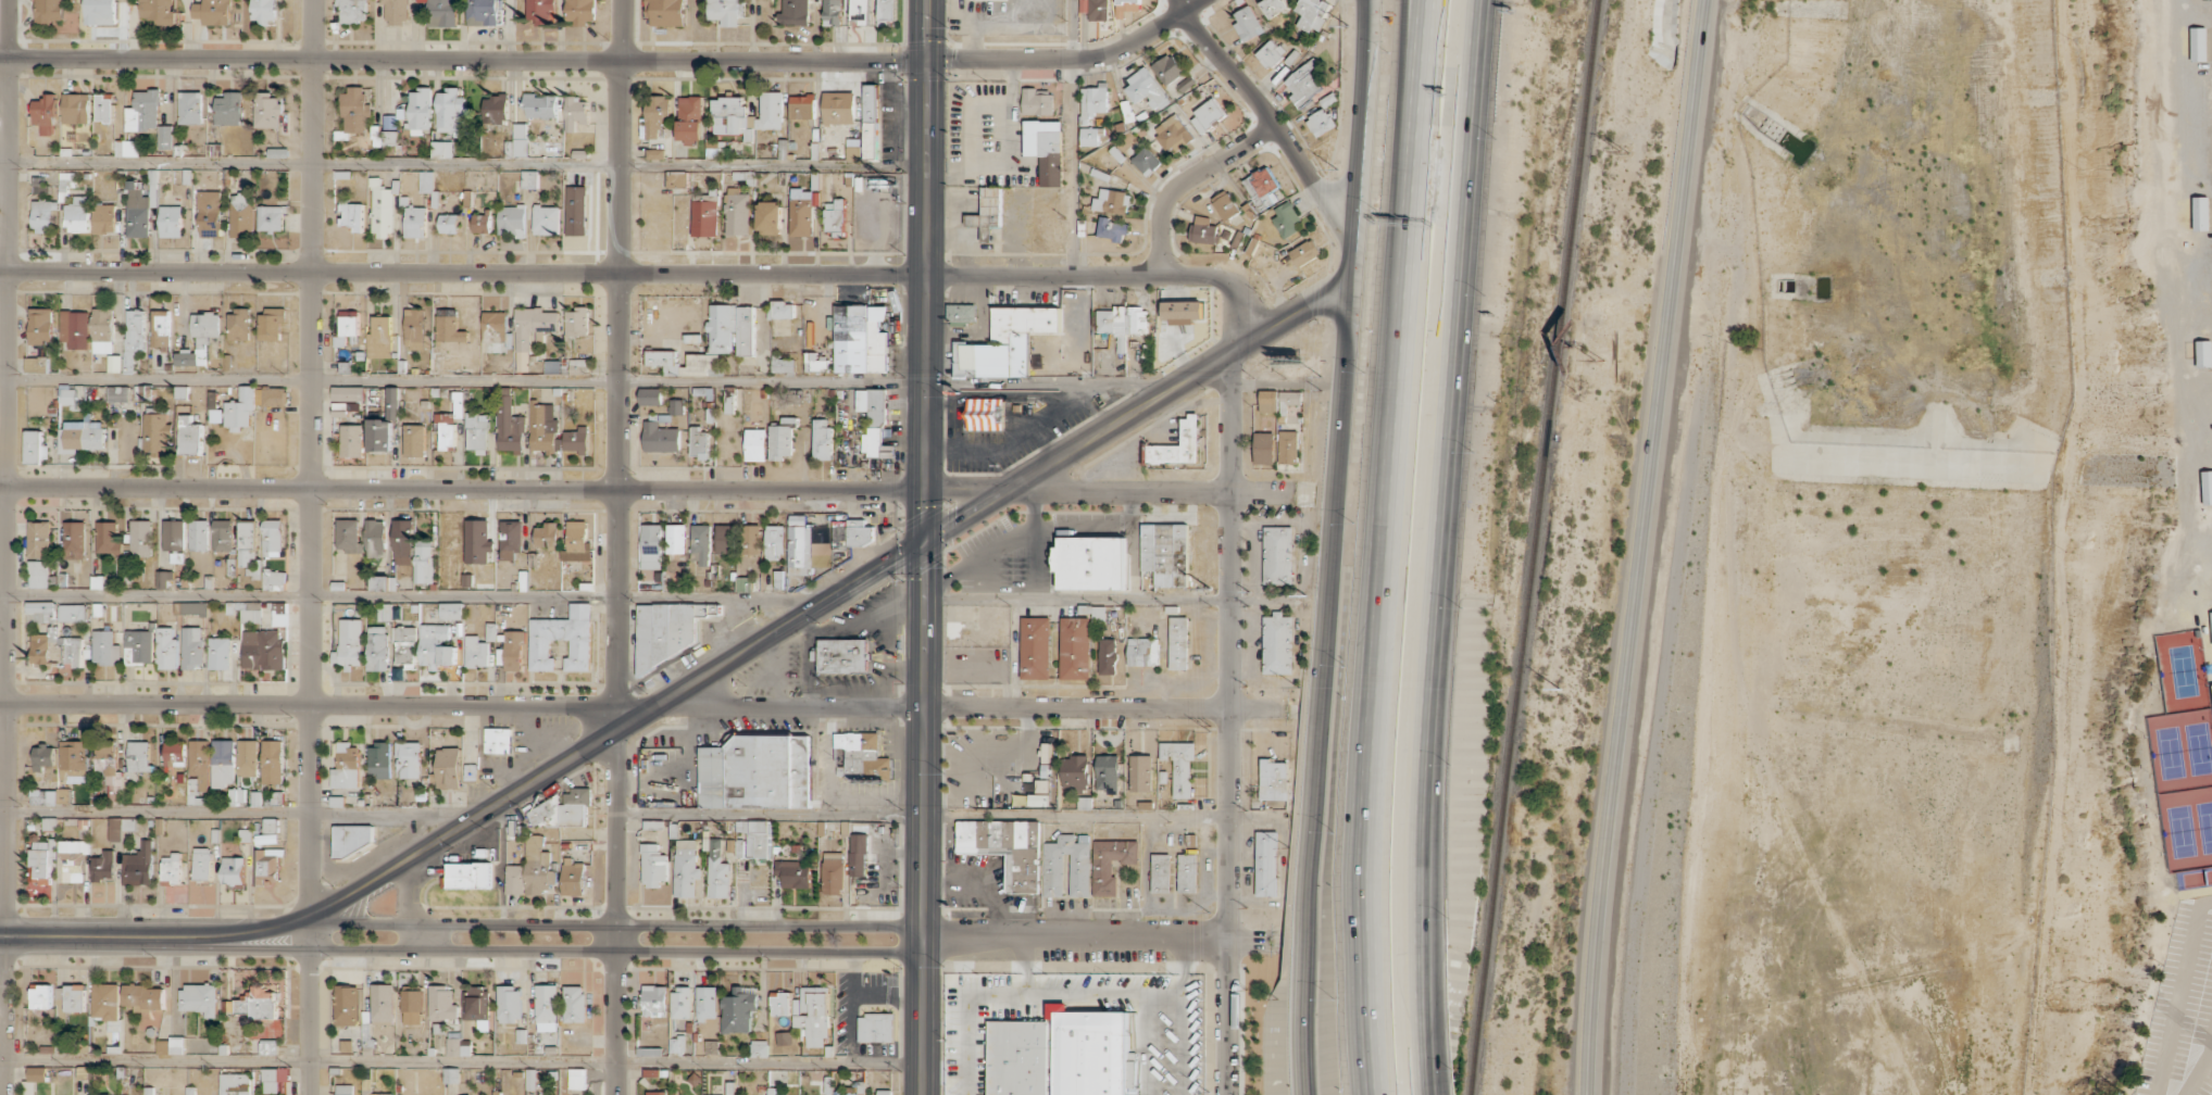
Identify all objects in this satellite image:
building: (1125, 7)
building: (1274, 7)
building: (1095, 9)
building: (48, 10)
building: (157, 10)
building: (263, 11)
building: (353, 11)
building: (396, 11)
building: (580, 11)
building: (859, 11)
building: (886, 11)
building: (99, 12)
building: (213, 12)
building: (482, 12)
building: (541, 12)
building: (724, 12)
building: (793, 12)
building: (832, 12)
building: (442, 13)
building: (666, 13)
building: (1311, 13)
building: (1247, 25)
building: (2198, 43)
building: (1270, 53)
road: (607, 59)
building: (1167, 68)
building: (1186, 84)
building: (1303, 84)
building: (1146, 90)
building: (1093, 100)
building: (1037, 101)
road: (1411, 102)
road: (1419, 102)
building: (542, 106)
building: (802, 106)
building: (76, 108)
building: (104, 108)
building: (190, 108)
building: (838, 108)
building: (229, 109)
building: (267, 109)
building: (357, 109)
building: (495, 110)
building: (143, 111)
building: (420, 111)
building: (770, 111)
building: (575, 113)
building: (45, 114)
building: (657, 115)
building: (1207, 116)
building: (732, 117)
building: (690, 118)
road: (1271, 118)
building: (390, 122)
building: (870, 122)
building: (1321, 122)
building: (520, 130)
building: (1172, 134)
building: (1088, 136)
building: (166, 137)
road: (1073, 137)
building: (389, 138)
building: (126, 148)
building: (516, 148)
building: (441, 149)
building: (853, 149)
building: (1046, 149)
building: (657, 153)
building: (1146, 161)
road: (463, 163)
building: (528, 179)
road: (1187, 179)
building: (425, 181)
building: (1262, 188)
building: (1112, 201)
building: (1225, 205)
building: (139, 209)
building: (576, 211)
building: (737, 212)
building: (801, 212)
building: (209, 213)
building: (382, 213)
building: (988, 213)
building: (2200, 213)
building: (43, 215)
building: (241, 215)
building: (351, 215)
building: (77, 217)
building: (704, 217)
building: (104, 218)
building: (271, 218)
building: (770, 218)
building: (835, 218)
building: (547, 219)
building: (1285, 219)
building: (512, 221)
building: (171, 222)
building: (415, 222)
building: (482, 223)
building: (449, 224)
building: (1111, 229)
building: (1202, 230)
building: (1304, 253)
road: (648, 272)
building: (783, 310)
building: (1182, 311)
building: (961, 313)
building: (1123, 320)
building: (577, 322)
building: (271, 323)
building: (41, 325)
building: (238, 325)
building: (346, 326)
building: (449, 326)
building: (495, 327)
building: (721, 327)
building: (75, 328)
building: (414, 328)
building: (160, 329)
building: (103, 330)
building: (532, 330)
building: (743, 330)
building: (379, 338)
building: (199, 339)
building: (860, 339)
building: (1004, 343)
building: (2203, 353)
building: (663, 361)
building: (814, 363)
building: (36, 364)
building: (702, 365)
building: (783, 366)
road: (591, 381)
building: (118, 393)
building: (347, 393)
building: (67, 395)
building: (273, 395)
building: (650, 397)
building: (729, 400)
building: (1288, 400)
building: (1267, 401)
building: (676, 406)
building: (240, 410)
building: (983, 415)
building: (216, 416)
building: (874, 421)
building: (384, 424)
building: (543, 428)
building: (446, 430)
building: (476, 432)
building: (157, 435)
building: (82, 436)
building: (189, 436)
building: (660, 436)
building: (822, 439)
building: (351, 440)
building: (414, 440)
building: (576, 440)
building: (780, 441)
building: (699, 442)
building: (755, 444)
building: (1175, 445)
building: (1288, 446)
building: (34, 448)
building: (1263, 448)
road: (1442, 468)
building: (2207, 487)
road: (648, 489)
building: (859, 532)
building: (174, 534)
building: (223, 534)
building: (199, 536)
building: (349, 536)
building: (547, 536)
building: (108, 538)
building: (140, 538)
building: (273, 538)
building: (39, 539)
building: (375, 539)
building: (511, 539)
building: (676, 539)
building: (726, 539)
building: (750, 539)
building: (74, 540)
building: (477, 541)
building: (402, 542)
building: (577, 542)
building: (774, 542)
building: (701, 543)
road: (617, 546)
building: (651, 546)
building: (799, 546)
road: (1330, 546)
road: (1638, 546)
road: (3, 547)
road: (311, 547)
road: (925, 547)
railway: (1532, 547)
building: (249, 550)
building: (1165, 553)
building: (1277, 555)
building: (424, 562)
building: (1090, 563)
building: (38, 574)
building: (164, 579)
building: (273, 580)
building: (383, 582)
building: (743, 584)
road: (412, 597)
road: (829, 599)
road: (1077, 599)
building: (193, 608)
building: (451, 611)
building: (41, 612)
building: (250, 612)
building: (72, 613)
building: (1098, 613)
building: (278, 615)
building: (2211, 625)
building: (671, 629)
building: (562, 639)
building: (1177, 642)
building: (349, 643)
building: (1277, 643)
building: (404, 645)
building: (436, 646)
building: (138, 647)
building: (192, 647)
building: (376, 647)
building: (1035, 647)
building: (1075, 647)
building: (104, 649)
building: (166, 649)
building: (263, 650)
road: (1377, 650)
building: (512, 651)
building: (475, 652)
building: (1142, 652)
building: (72, 653)
building: (220, 653)
building: (843, 656)
building: (1107, 656)
road: (313, 705)
road: (984, 707)
road: (1229, 723)
building: (498, 740)
building: (174, 754)
building: (139, 756)
building: (42, 757)
building: (74, 757)
building: (247, 757)
building: (861, 757)
building: (379, 759)
building: (408, 759)
building: (272, 762)
building: (223, 763)
building: (1178, 765)
building: (346, 767)
building: (448, 768)
building: (110, 770)
building: (1074, 771)
building: (471, 772)
building: (757, 772)
building: (1107, 772)
building: (1140, 773)
building: (1273, 779)
building: (42, 796)
building: (236, 796)
building: (253, 798)
building: (1084, 803)
building: (563, 810)
road: (240, 811)
road: (924, 814)
building: (128, 823)
building: (114, 829)
building: (245, 835)
building: (353, 839)
building: (752, 839)
building: (1005, 848)
building: (858, 855)
building: (42, 859)
building: (72, 860)
building: (202, 864)
building: (1110, 864)
building: (1265, 864)
building: (138, 865)
building: (103, 866)
building: (267, 866)
building: (538, 866)
building: (653, 866)
building: (171, 868)
building: (686, 868)
building: (233, 870)
building: (717, 871)
building: (833, 872)
building: (1160, 872)
building: (1186, 872)
building: (792, 873)
building: (1079, 874)
building: (470, 876)
building: (573, 877)
building: (514, 879)
road: (616, 923)
road: (155, 935)
road: (1096, 939)
road: (570, 951)
road: (1022, 966)
road: (1183, 972)
road: (1071, 994)
building: (75, 997)
building: (145, 997)
building: (199, 998)
building: (105, 1000)
building: (654, 1000)
building: (682, 1002)
building: (383, 1003)
building: (442, 1003)
building: (707, 1003)
road: (1423, 1003)
road: (1429, 1003)
building: (259, 1004)
building: (574, 1004)
building: (347, 1005)
building: (509, 1005)
building: (780, 1005)
building: (412, 1007)
building: (546, 1007)
building: (738, 1011)
building: (812, 1015)
building: (875, 1028)
building: (784, 1039)
building: (171, 1045)
building: (267, 1046)
building: (458, 1046)
building: (651, 1047)
building: (759, 1048)
building: (1060, 1054)
road: (460, 1062)
building: (451, 1075)
building: (34, 1079)
building: (273, 1079)
building: (530, 1079)
building: (576, 1079)
road: (1426, 1081)
road: (1440, 1081)
building: (234, 1084)
building: (730, 1087)
building: (343, 1090)
building: (1051, 1091)
building: (847, 1092)
building: (884, 1092)
building: (376, 1093)
building: (654, 1093)
building: (98, 1094)

